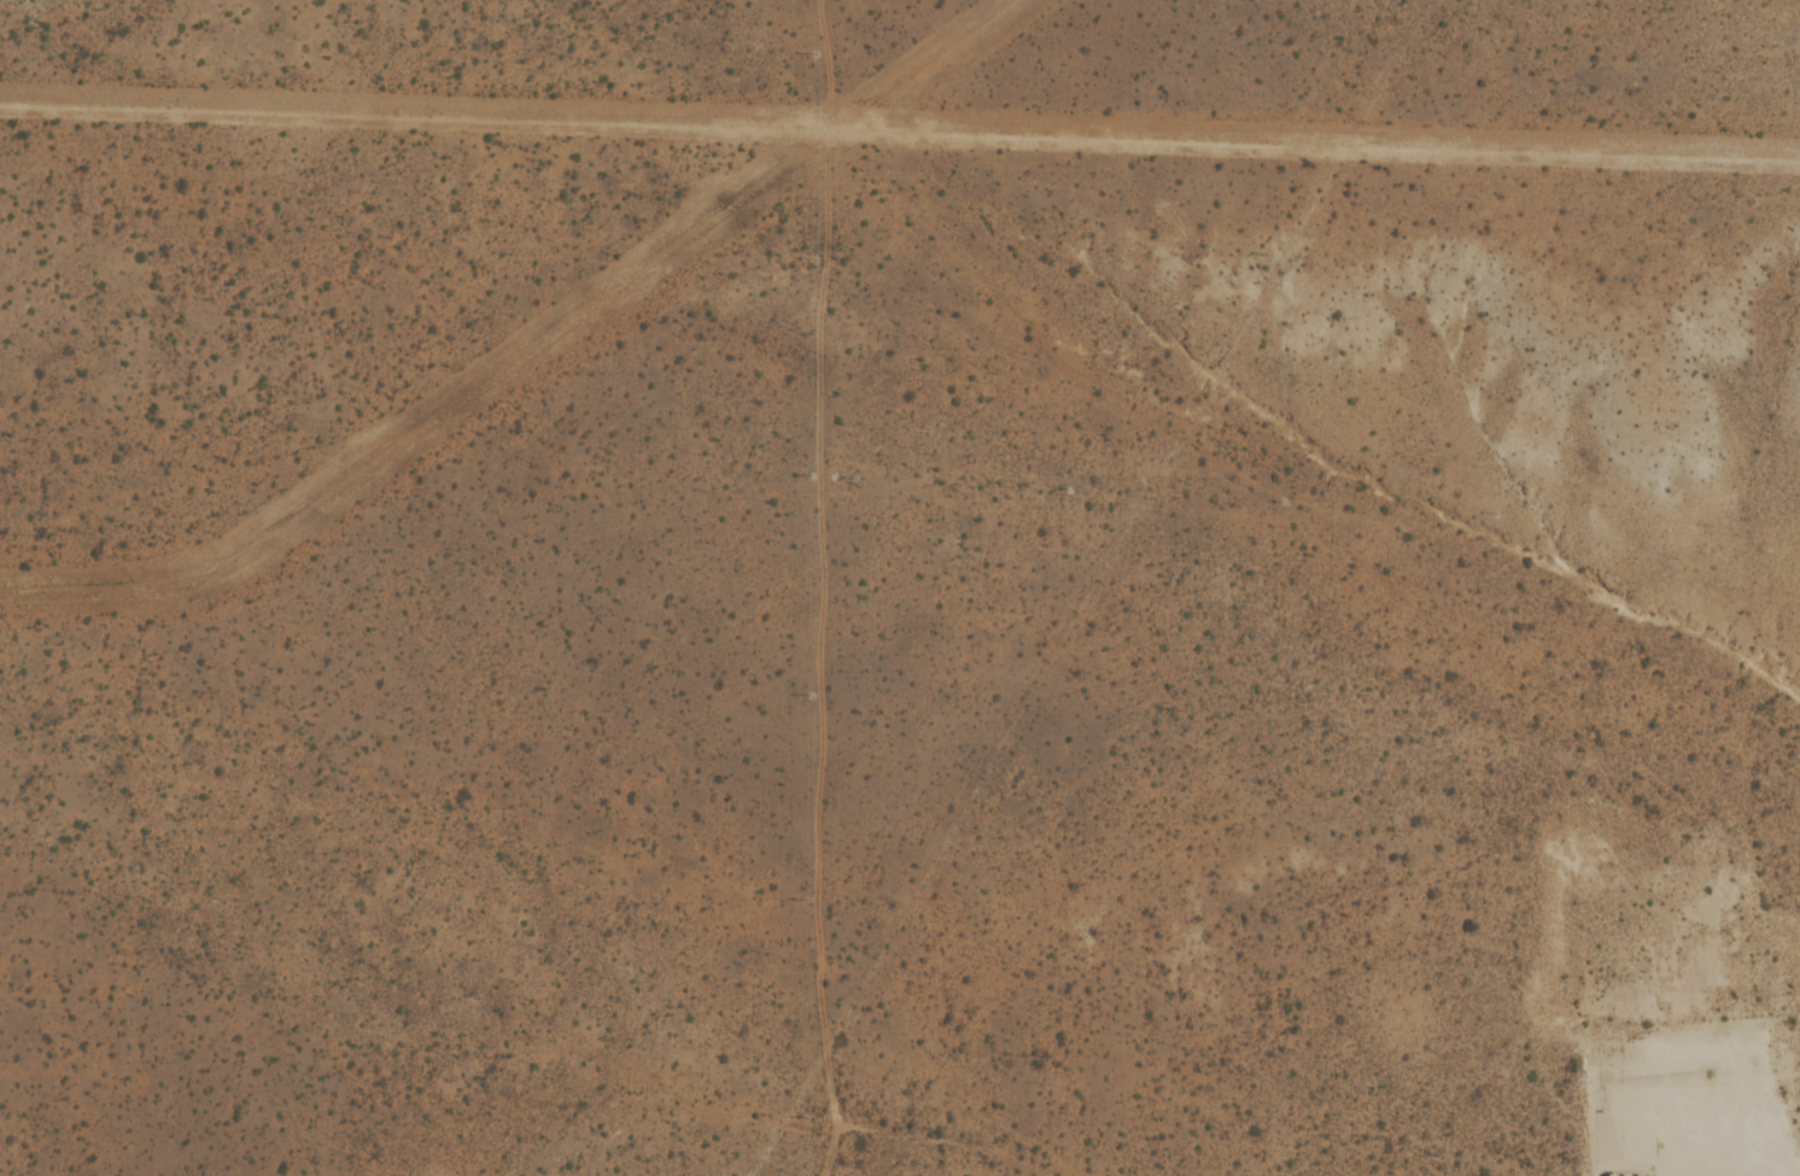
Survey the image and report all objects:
road: (1689, 1101)

